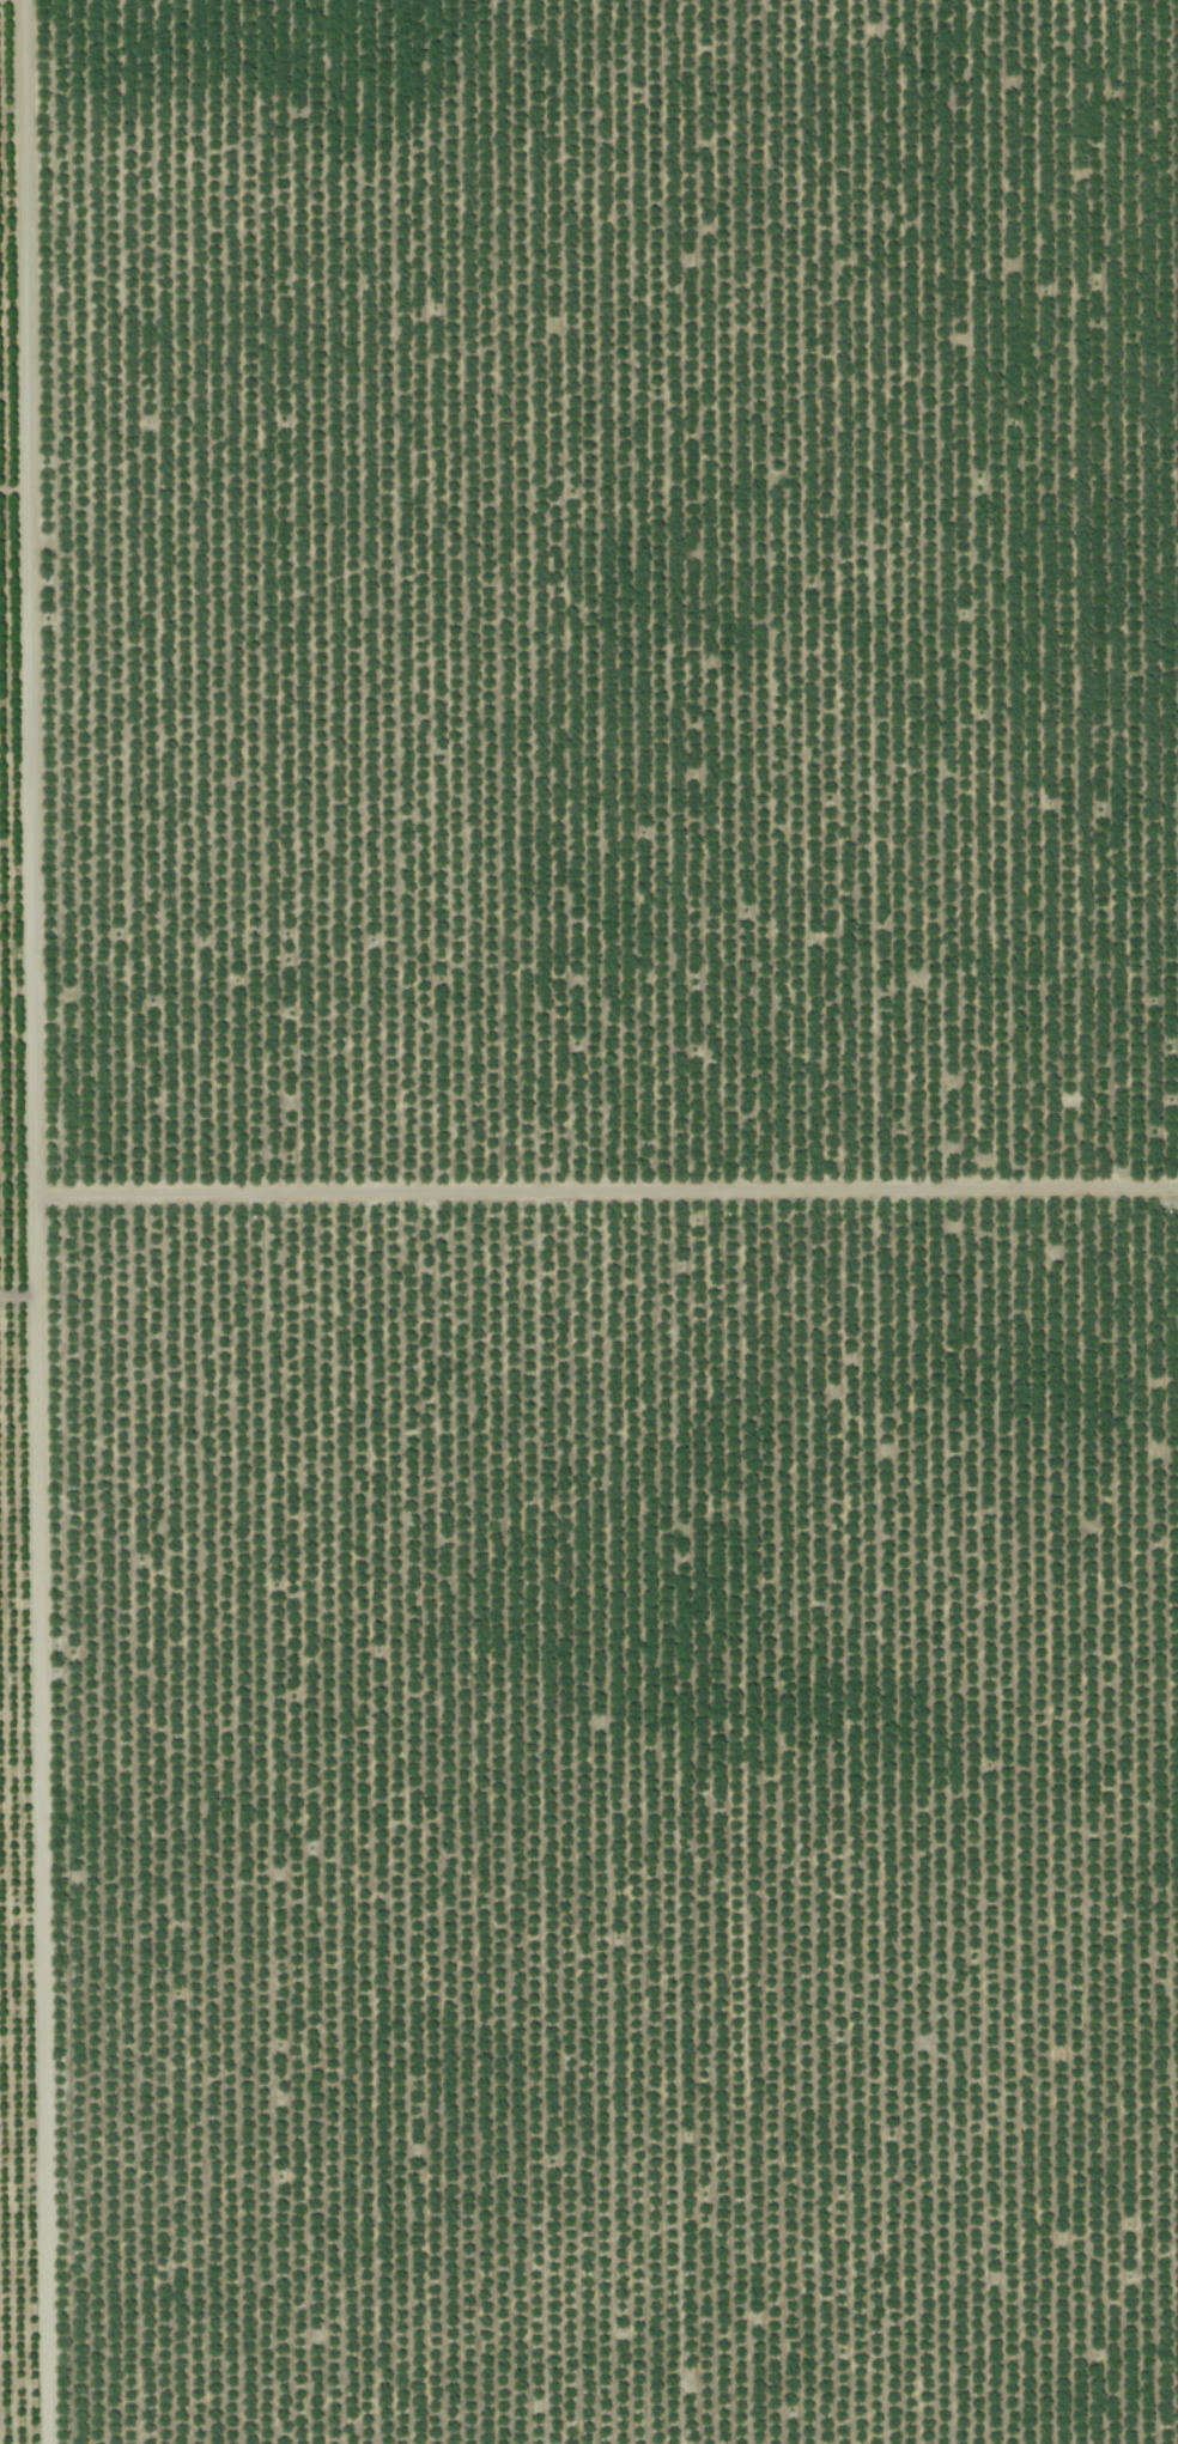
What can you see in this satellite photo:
crop: (589, 1222)

